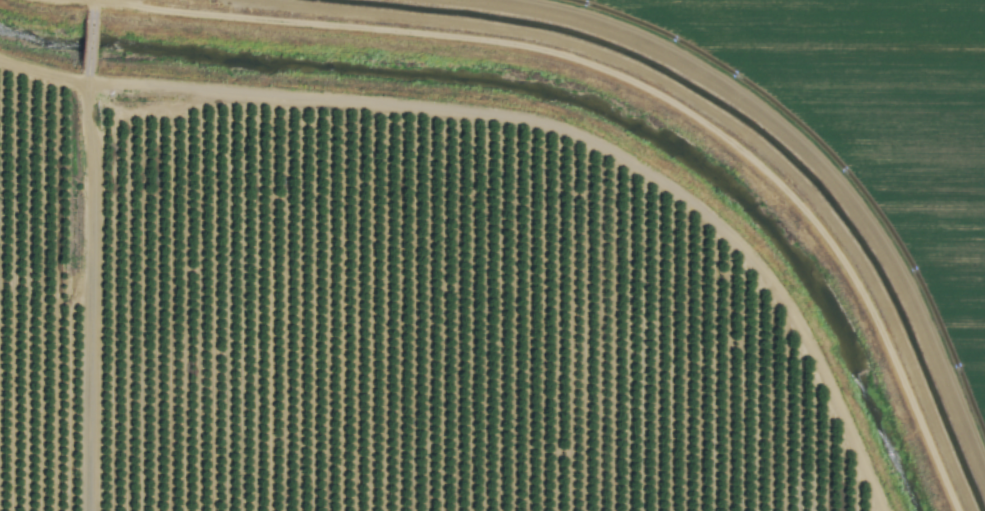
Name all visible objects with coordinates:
road: (618, 79)
road: (539, 122)
road: (81, 257)
road: (40, 285)

